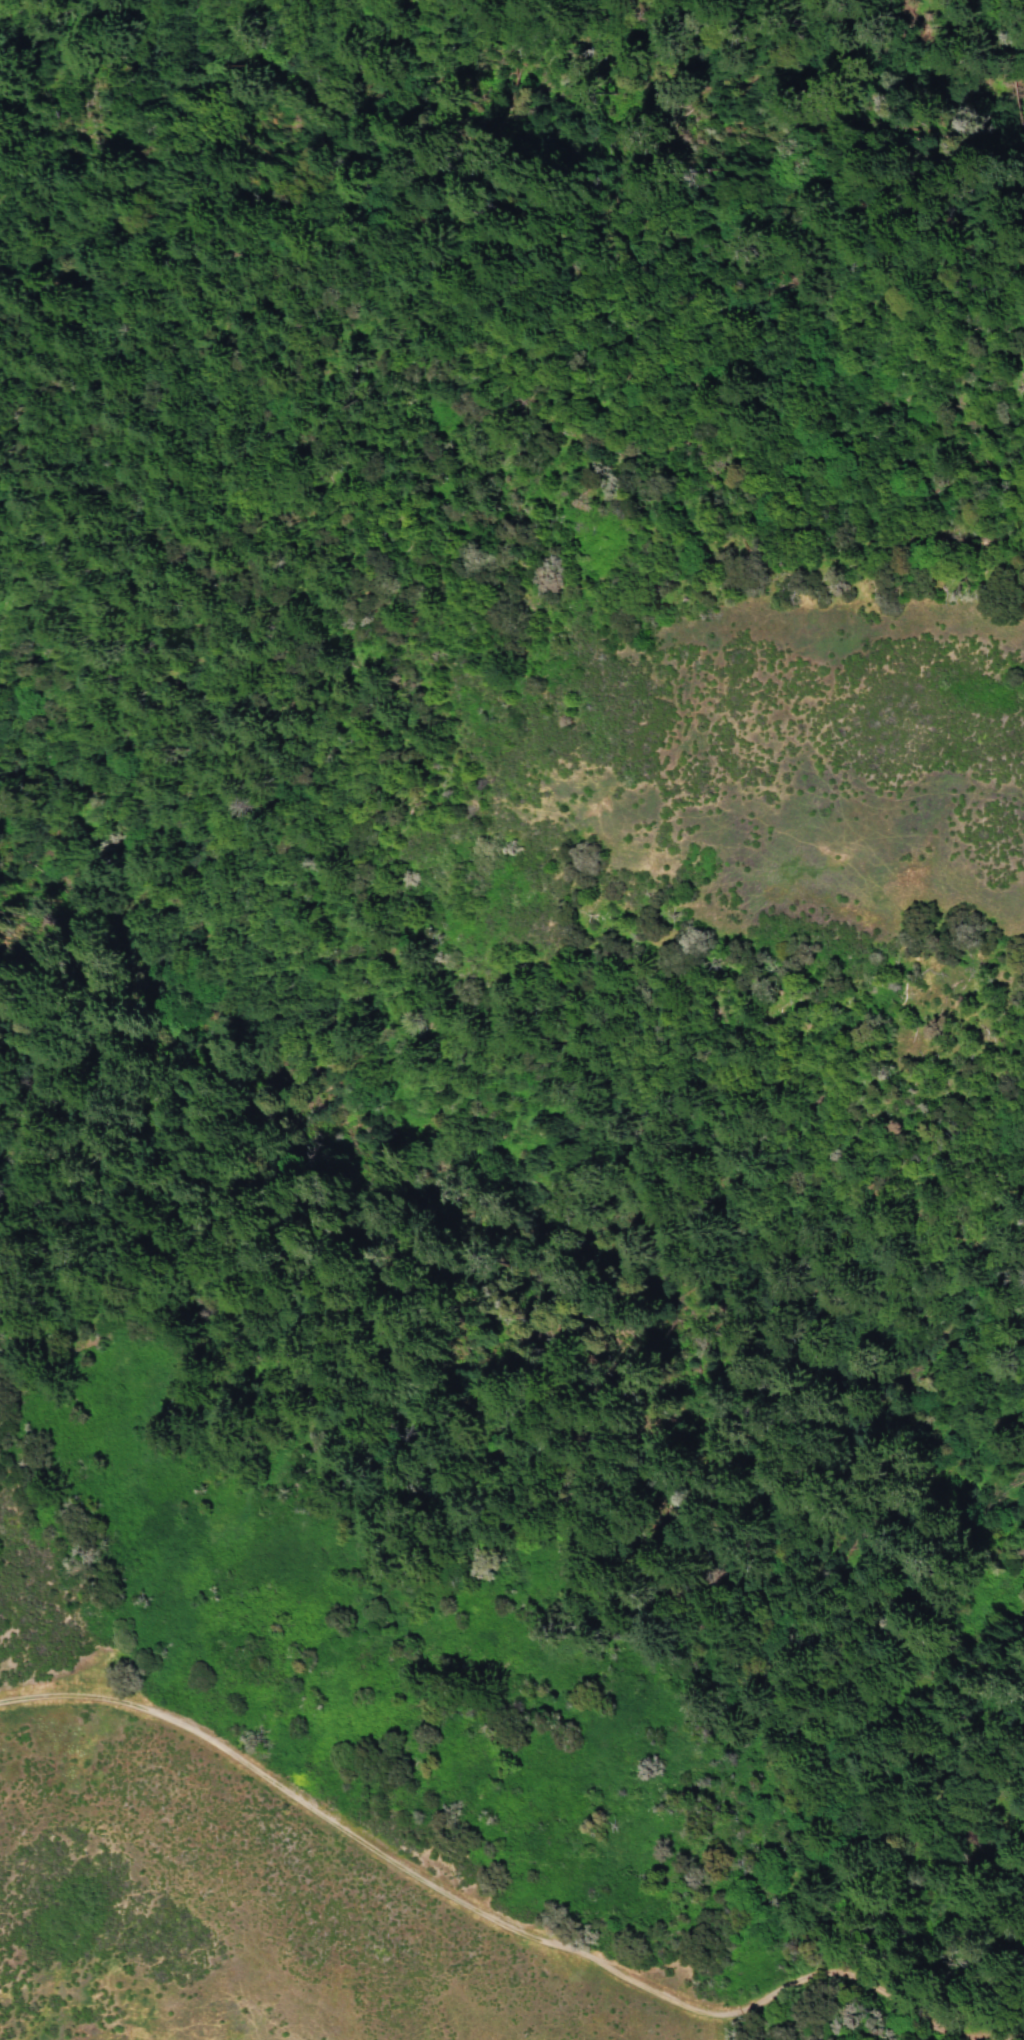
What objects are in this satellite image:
road: (503, 1926)

